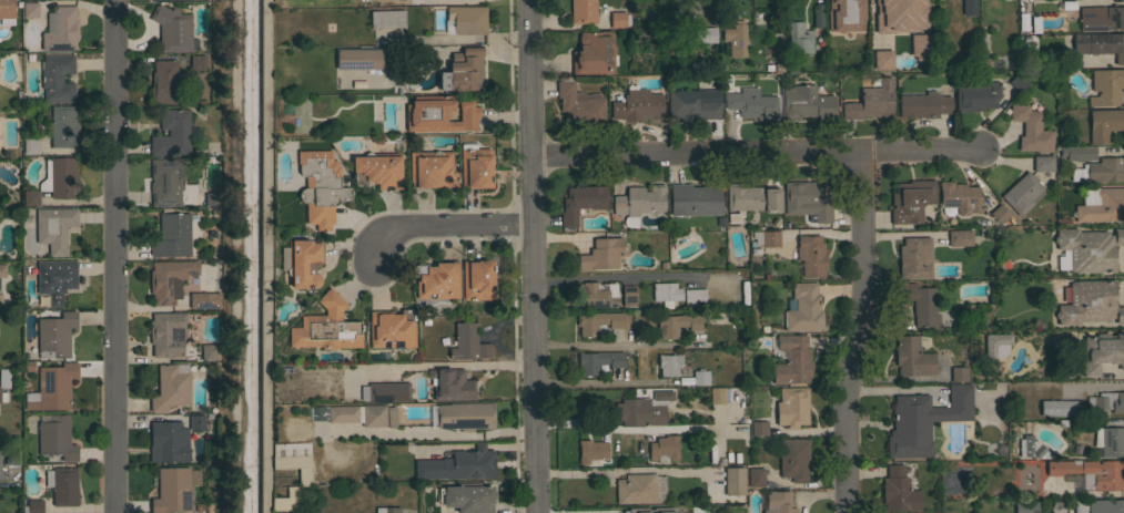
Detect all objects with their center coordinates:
building: (169, 0)
building: (969, 7)
building: (921, 8)
building: (30, 9)
road: (708, 10)
building: (583, 11)
building: (7, 12)
building: (817, 14)
building: (844, 14)
building: (893, 16)
building: (1102, 18)
building: (386, 19)
building: (467, 19)
building: (618, 19)
building: (60, 29)
building: (172, 29)
building: (682, 38)
building: (799, 38)
building: (736, 39)
building: (1100, 44)
building: (915, 45)
building: (594, 53)
building: (878, 57)
building: (358, 58)
building: (196, 62)
building: (702, 65)
building: (460, 70)
building: (57, 78)
building: (1017, 81)
building: (165, 82)
building: (1105, 86)
building: (976, 96)
building: (871, 101)
building: (806, 102)
building: (578, 103)
building: (750, 103)
building: (923, 104)
building: (636, 105)
building: (691, 105)
building: (439, 114)
building: (1104, 123)
building: (63, 126)
building: (1031, 129)
building: (172, 133)
building: (30, 145)
building: (1077, 152)
road: (757, 154)
building: (1043, 163)
building: (474, 166)
building: (431, 168)
building: (377, 170)
building: (1106, 170)
building: (55, 181)
building: (166, 182)
building: (320, 186)
building: (1022, 193)
building: (751, 197)
building: (212, 198)
building: (695, 198)
building: (809, 198)
building: (958, 198)
building: (910, 201)
building: (581, 202)
building: (638, 202)
building: (1103, 206)
building: (1000, 214)
road: (443, 226)
building: (54, 228)
building: (172, 235)
building: (960, 237)
building: (766, 238)
building: (1088, 248)
building: (601, 254)
building: (811, 255)
road: (111, 256)
road: (224, 256)
road: (534, 256)
building: (914, 257)
building: (303, 263)
building: (2, 270)
road: (606, 276)
building: (55, 279)
building: (169, 279)
building: (437, 279)
building: (477, 279)
building: (665, 294)
building: (0, 295)
building: (596, 295)
building: (628, 295)
building: (693, 295)
building: (204, 300)
building: (921, 304)
building: (1090, 304)
building: (803, 308)
building: (597, 321)
building: (677, 324)
building: (326, 327)
building: (392, 329)
building: (166, 334)
road: (859, 334)
building: (55, 336)
building: (467, 342)
building: (995, 345)
building: (1102, 351)
building: (209, 352)
building: (911, 357)
building: (790, 359)
building: (598, 361)
building: (668, 363)
road: (453, 366)
building: (959, 372)
building: (700, 377)
building: (4, 378)
road: (609, 383)
building: (450, 384)
building: (52, 387)
building: (171, 387)
building: (385, 391)
building: (716, 394)
building: (3, 397)
building: (1106, 401)
building: (792, 407)
building: (1060, 408)
building: (642, 409)
building: (316, 414)
building: (356, 415)
building: (465, 415)
building: (389, 418)
building: (923, 420)
building: (196, 422)
road: (596, 428)
building: (759, 428)
building: (55, 437)
building: (168, 440)
building: (1108, 441)
building: (664, 447)
building: (591, 450)
building: (1035, 450)
building: (12, 458)
building: (793, 459)
building: (287, 461)
building: (457, 464)
building: (1091, 472)
building: (1, 474)
building: (304, 476)
building: (756, 476)
building: (733, 481)
building: (261, 482)
building: (62, 484)
building: (173, 489)
building: (639, 489)
building: (898, 491)
building: (467, 497)
building: (778, 502)
building: (1098, 505)
building: (32, 506)
building: (1025, 506)
building: (1057, 506)
building: (387, 510)
building: (595, 510)
building: (622, 511)

